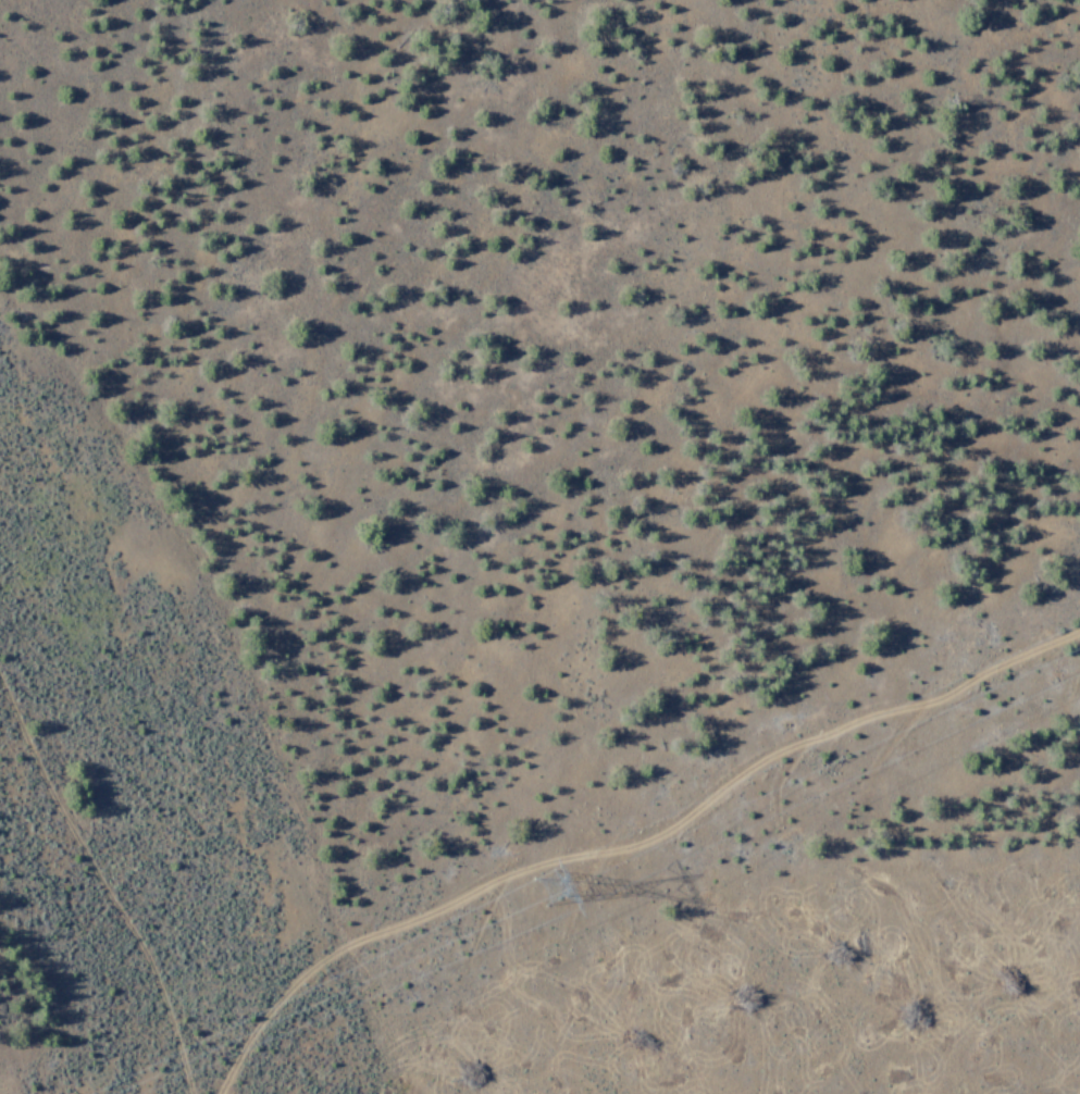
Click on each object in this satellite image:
power tower: (556, 895)

